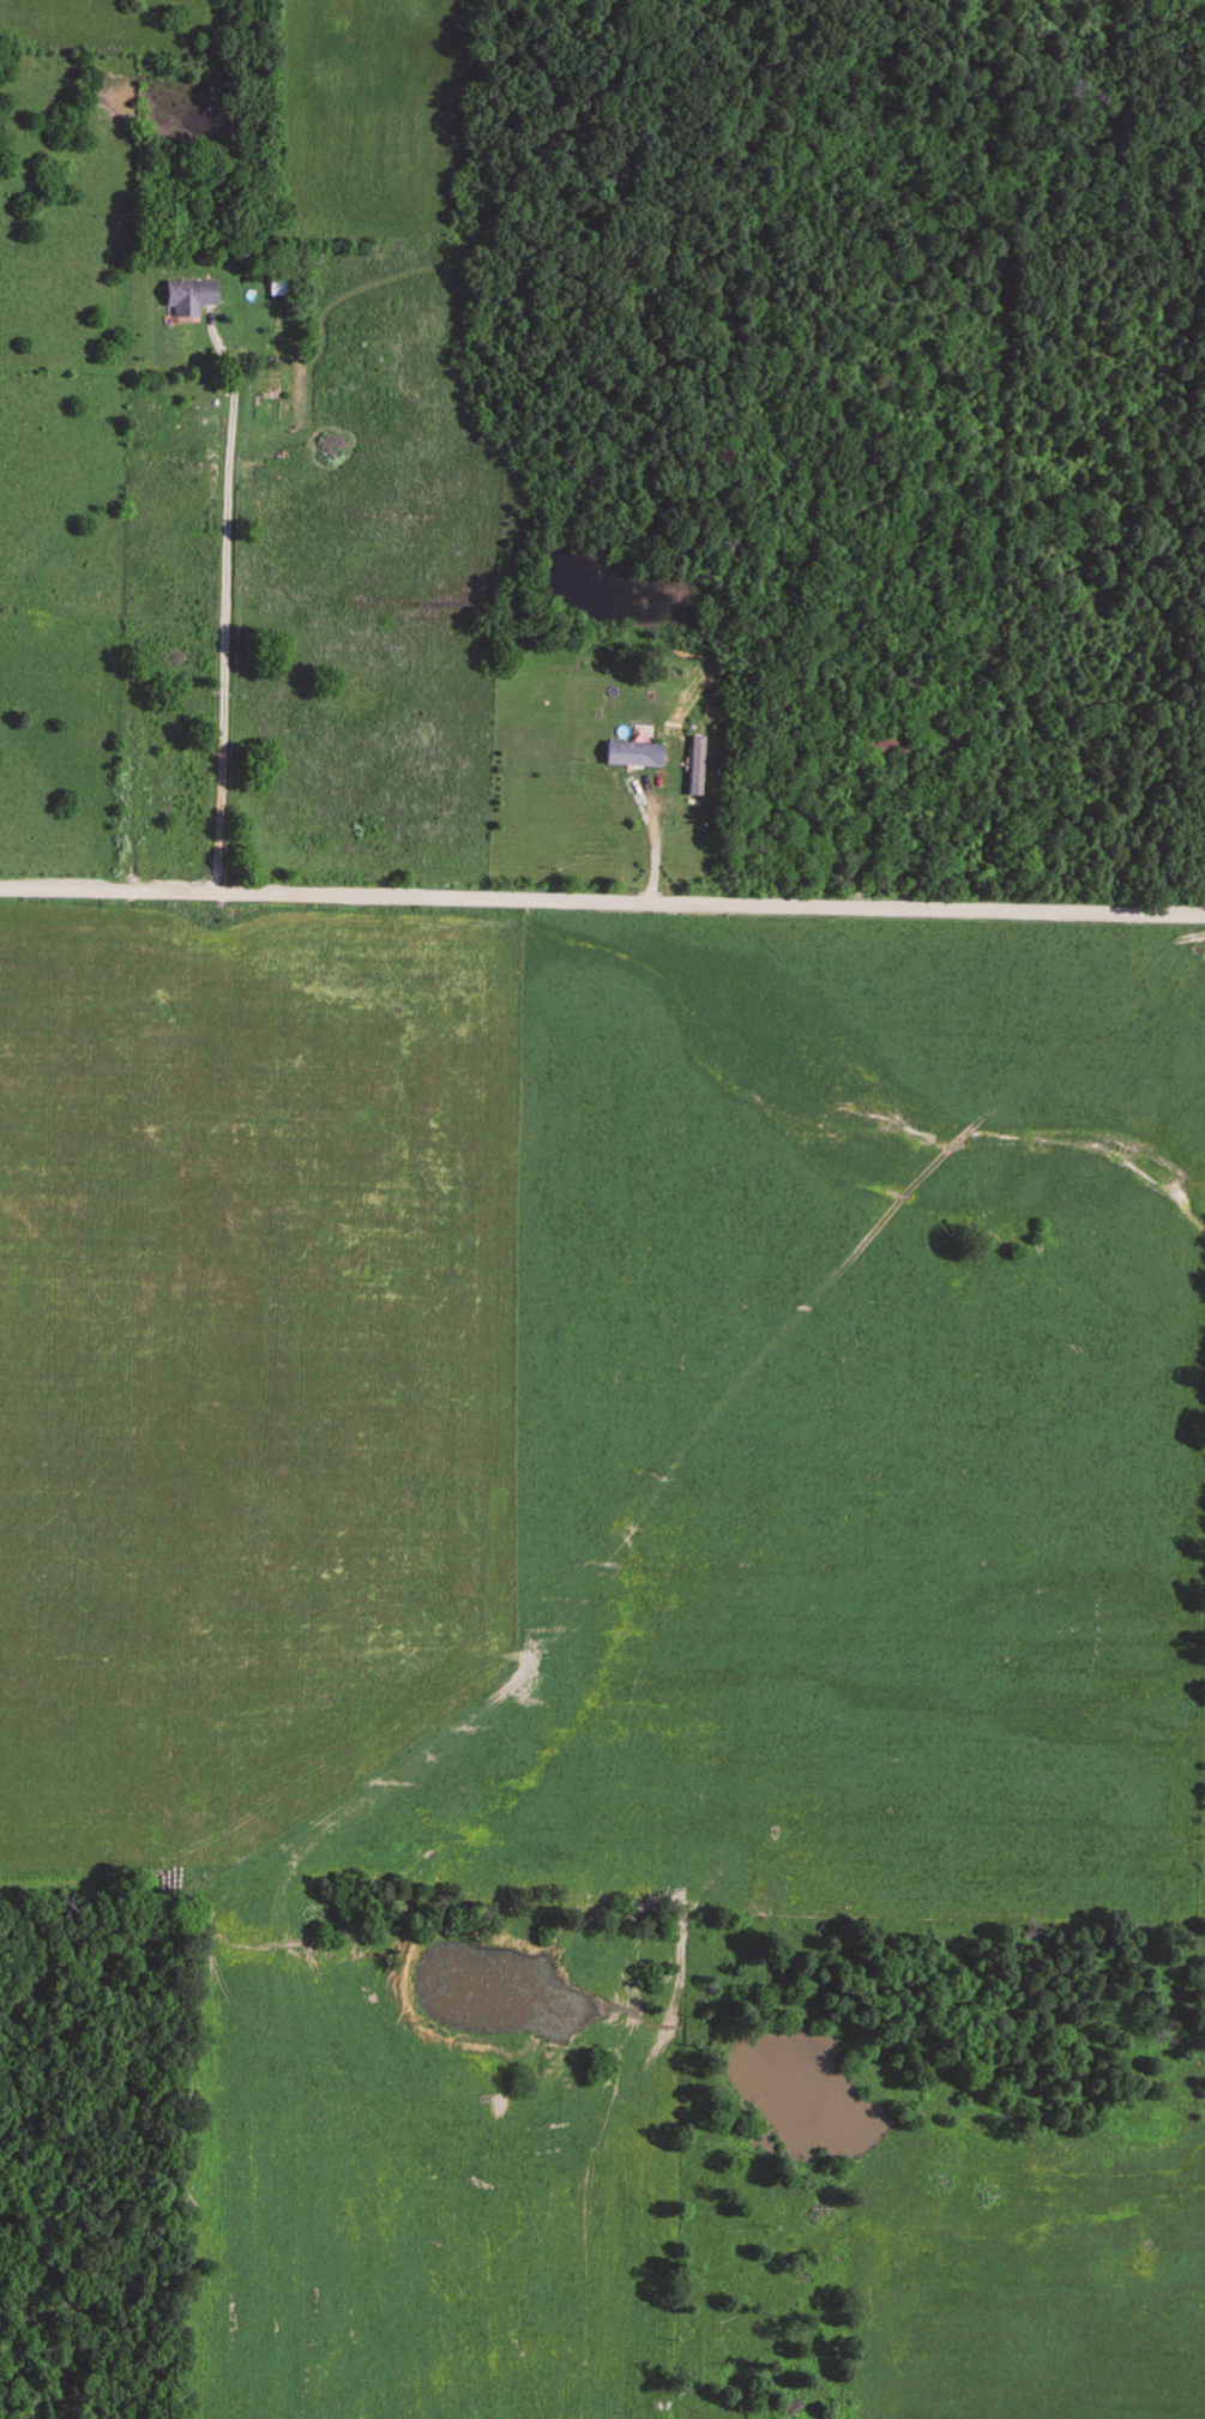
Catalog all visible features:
building: (277, 285)
building: (187, 297)
road: (227, 613)
building: (910, 685)
building: (880, 750)
building: (631, 756)
road: (656, 842)
road: (602, 899)

